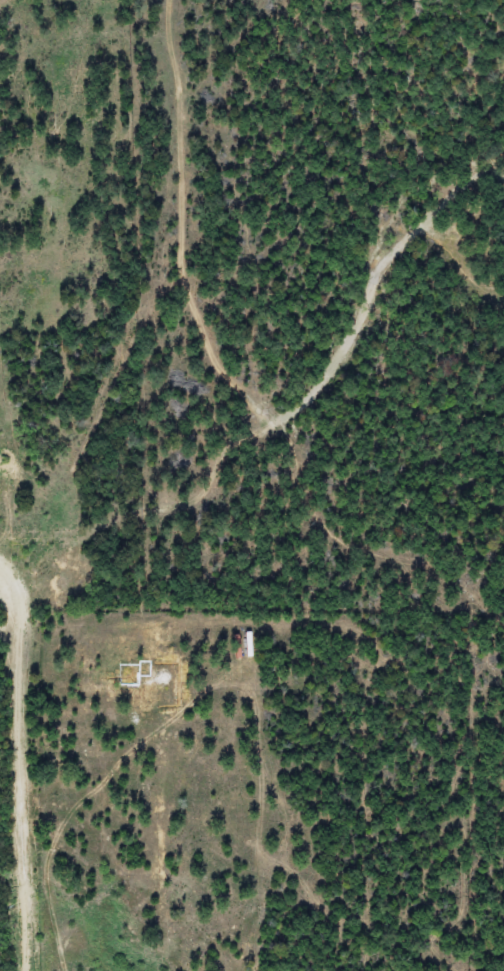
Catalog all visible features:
road: (25, 757)

